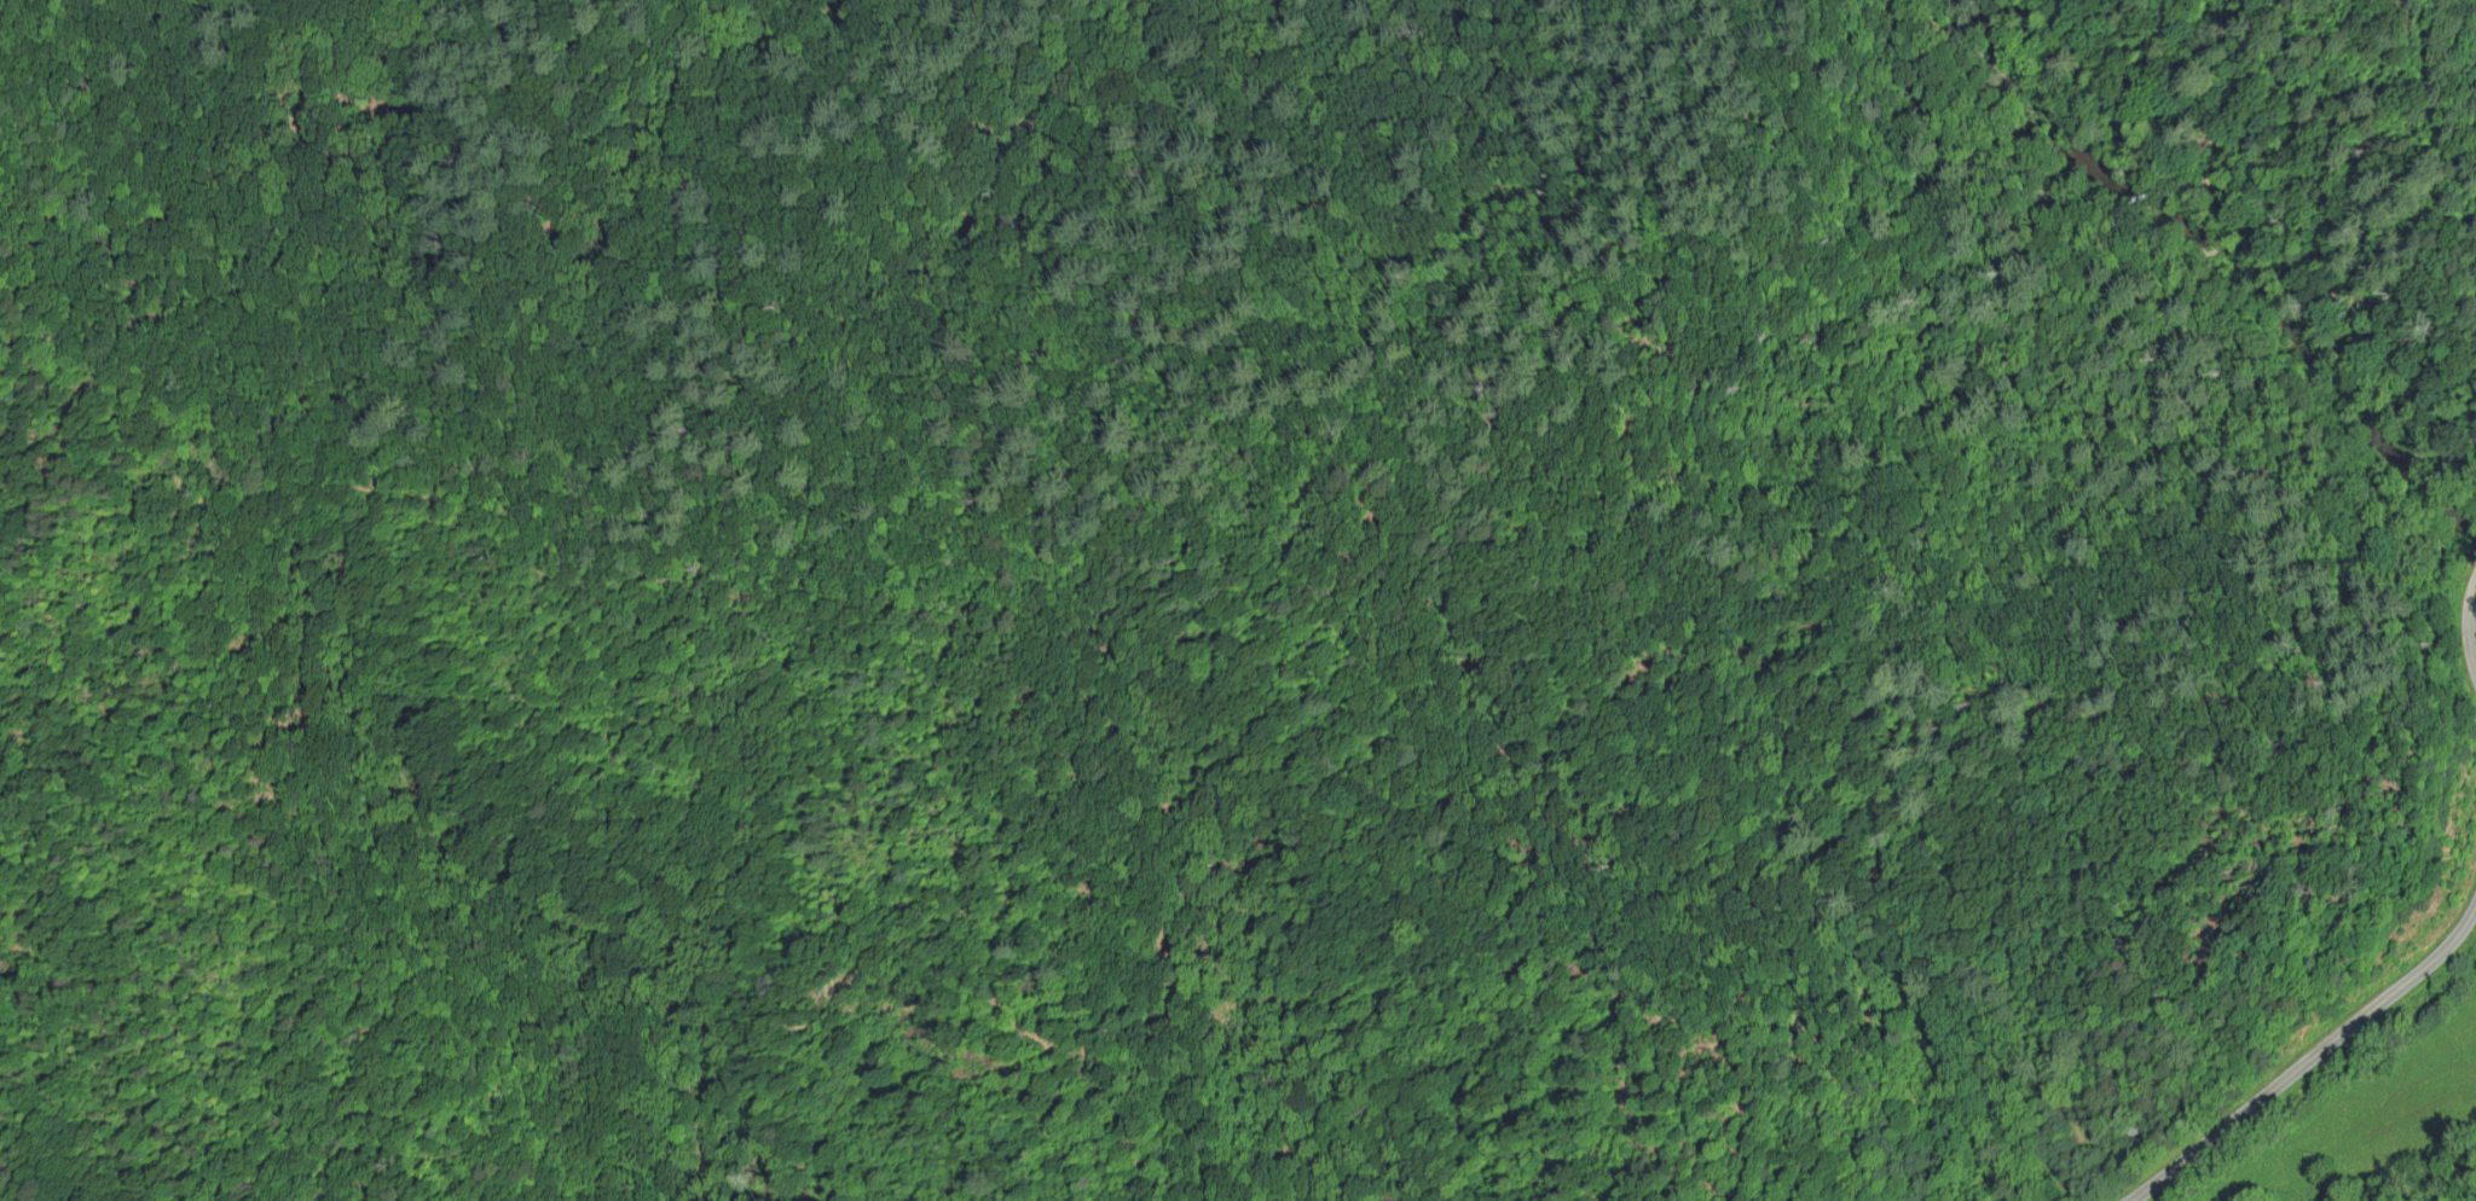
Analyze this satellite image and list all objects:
road: (2225, 133)
road: (2164, 164)
road: (1475, 350)
road: (2469, 625)
road: (2308, 1057)
road: (2338, 1101)
building: (2133, 1131)

